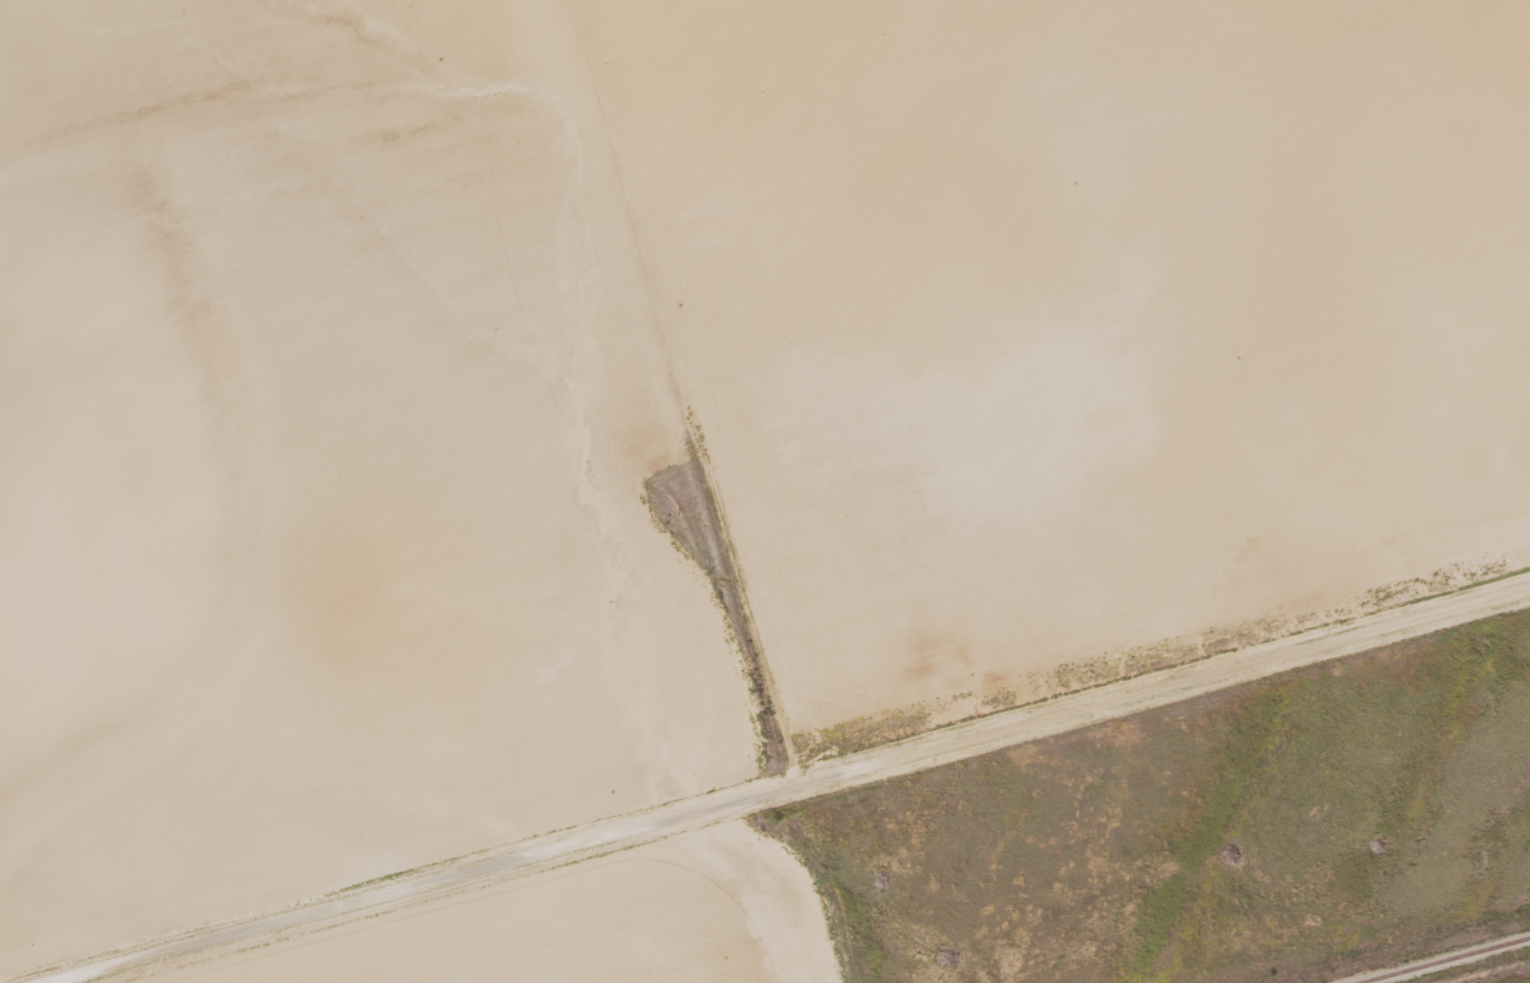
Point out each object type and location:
road: (787, 790)
railway: (1442, 959)

